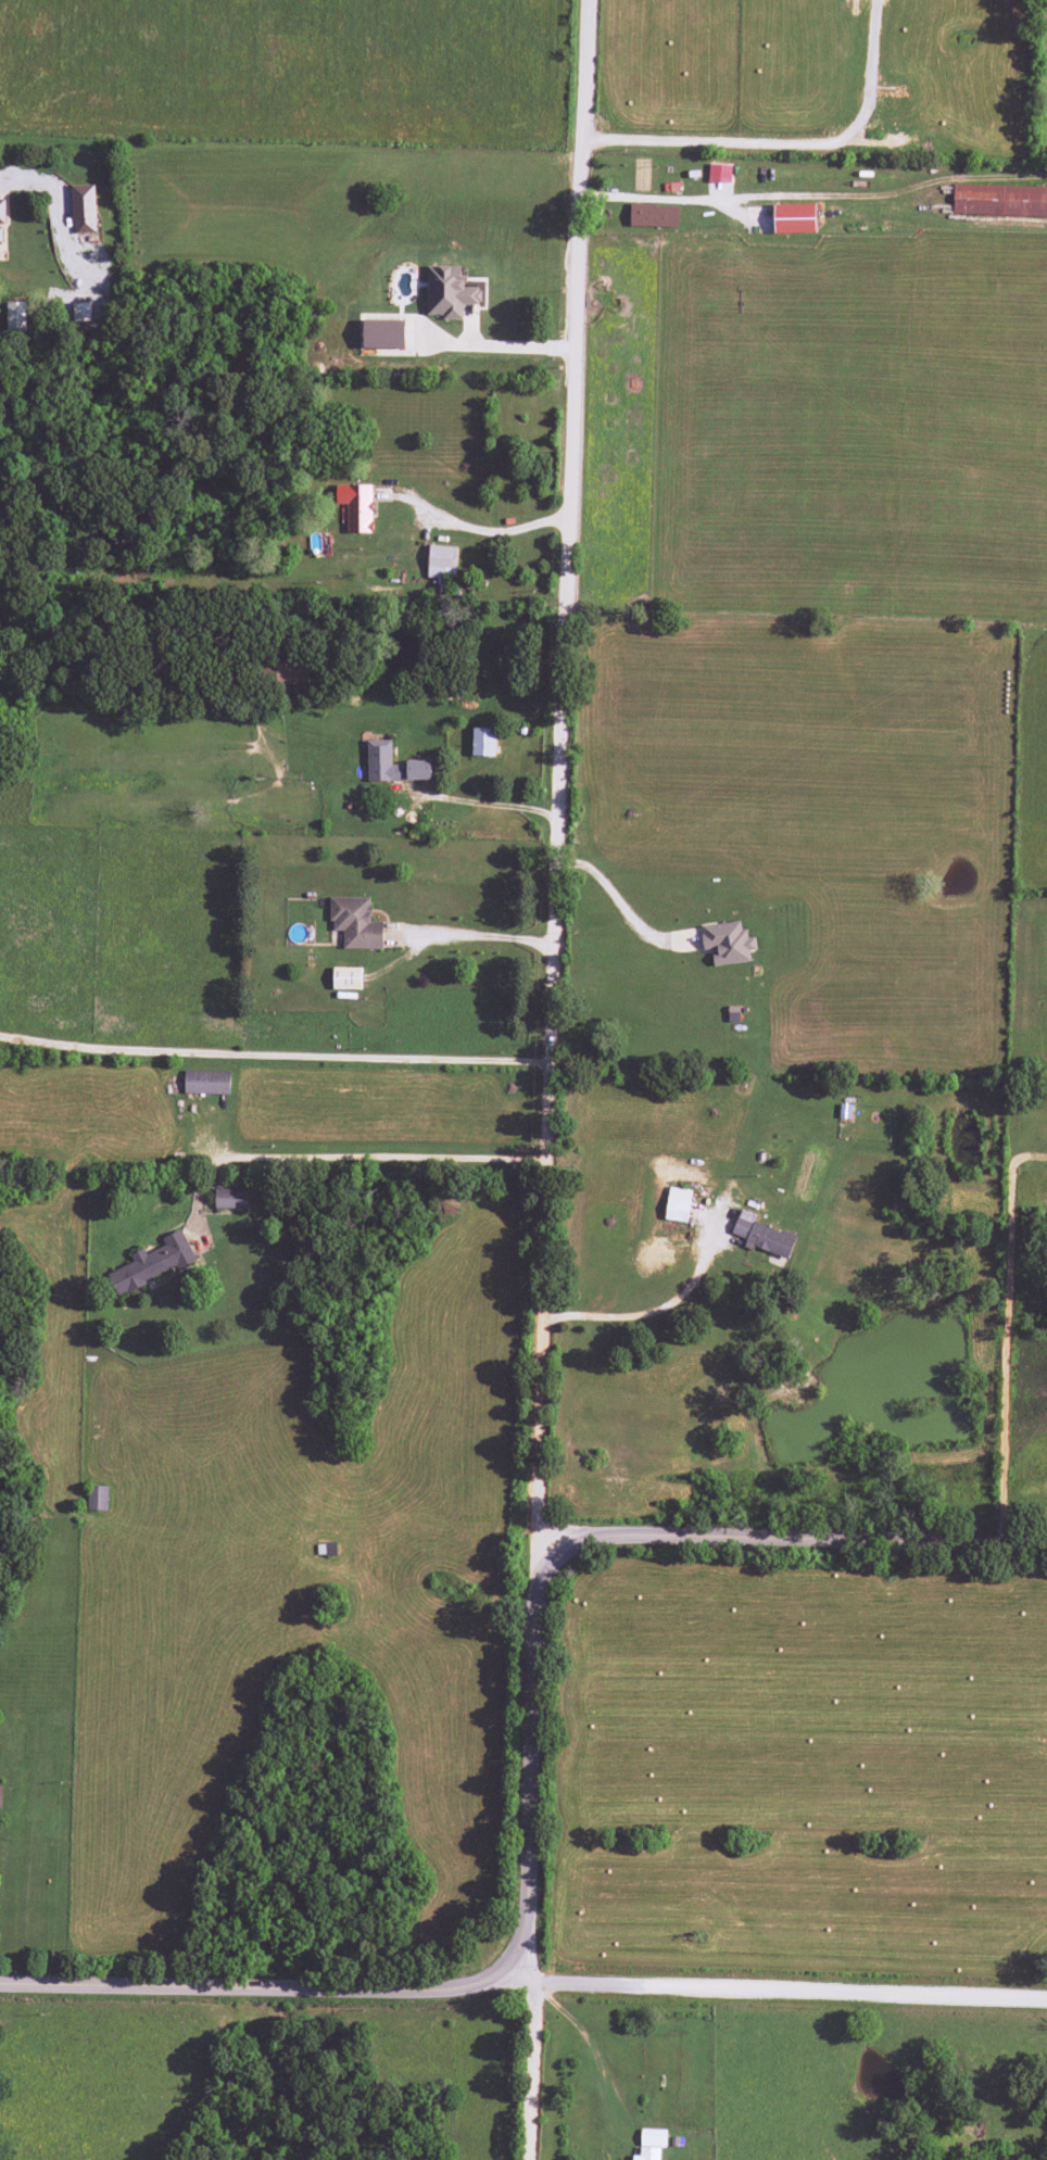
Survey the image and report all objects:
building: (719, 173)
building: (999, 201)
building: (83, 209)
building: (653, 216)
building: (794, 218)
building: (1, 222)
building: (449, 291)
building: (80, 312)
building: (15, 316)
building: (382, 333)
road: (491, 346)
building: (356, 506)
building: (441, 565)
building: (285, 672)
building: (482, 742)
road: (30, 757)
building: (392, 765)
road: (555, 781)
building: (355, 923)
building: (727, 943)
building: (346, 978)
road: (273, 1054)
building: (206, 1082)
building: (229, 1199)
building: (677, 1204)
road: (428, 1229)
building: (762, 1236)
building: (152, 1263)
road: (1006, 1335)
building: (97, 1498)
road: (794, 1538)
road: (526, 1758)
building: (0, 1795)
road: (281, 1864)
road: (585, 1984)
road: (258, 1987)
road: (844, 1993)
road: (531, 2055)
building: (653, 2137)
building: (647, 2153)

